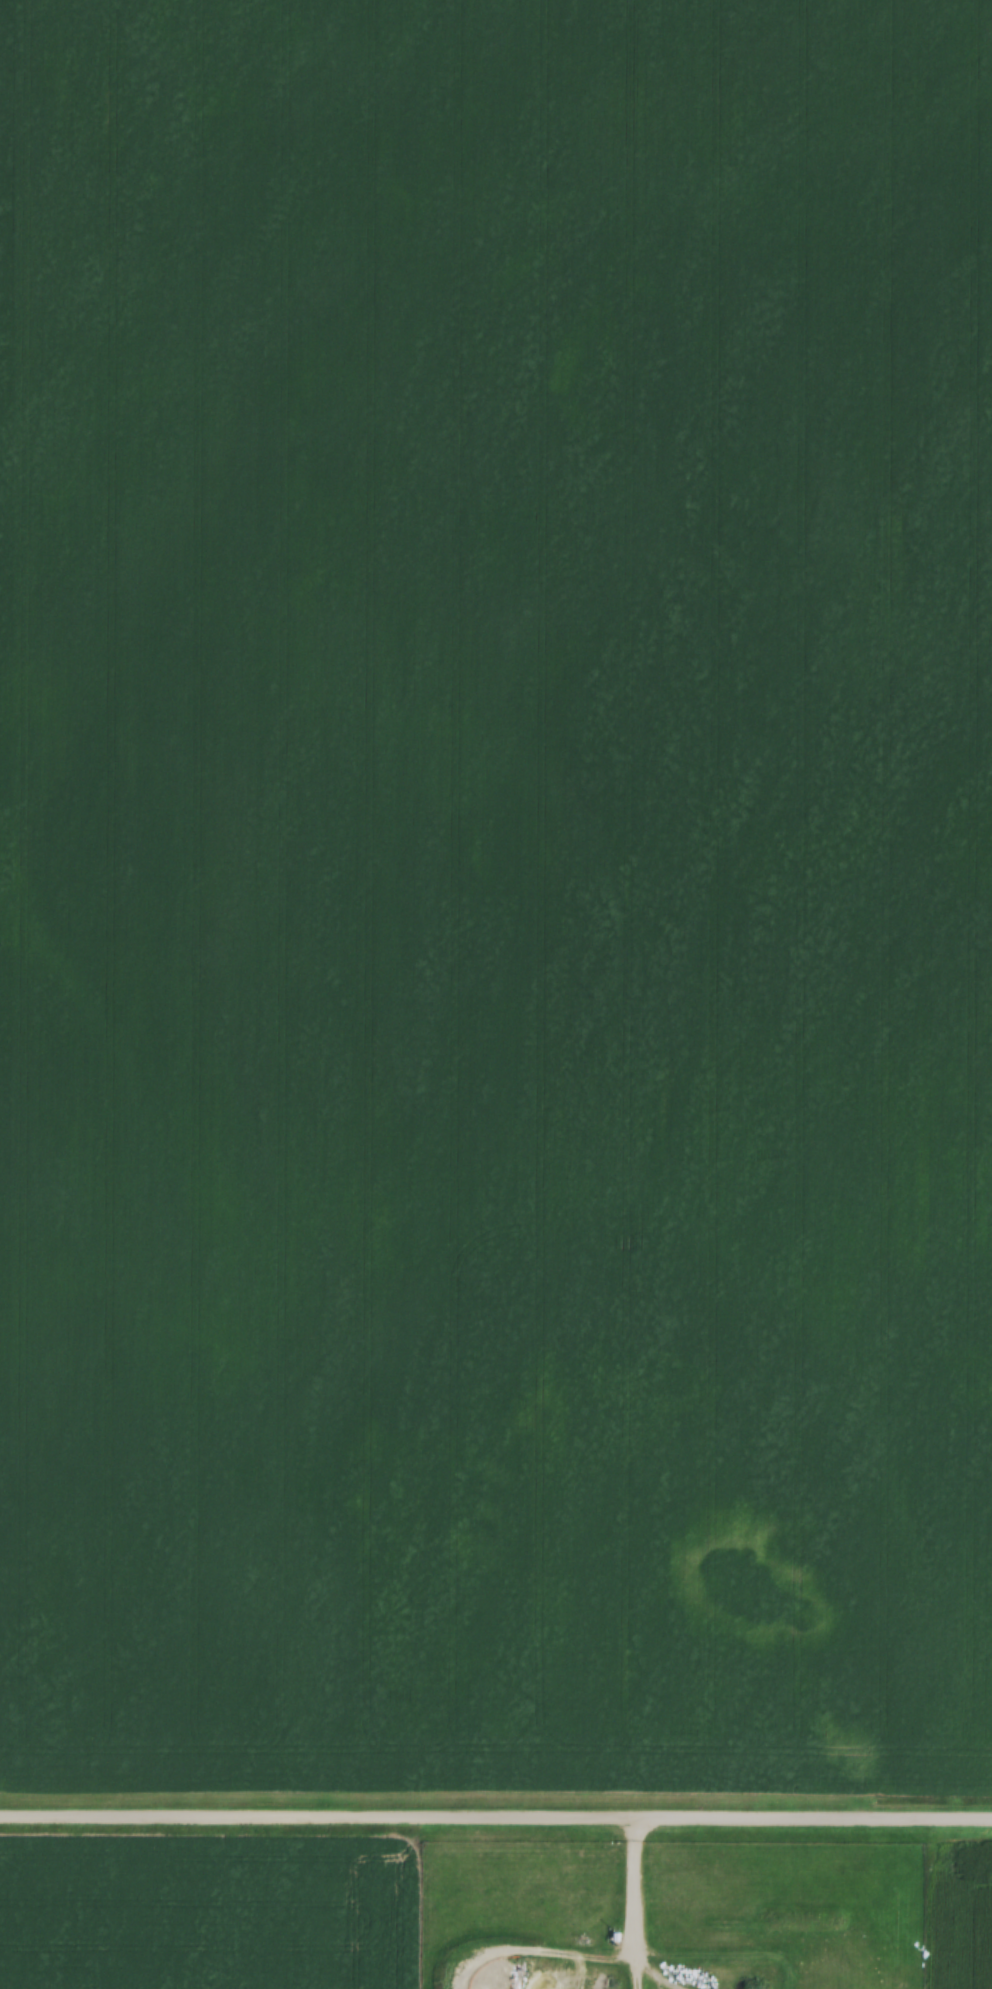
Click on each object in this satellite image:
road: (496, 1812)
road: (638, 1900)

